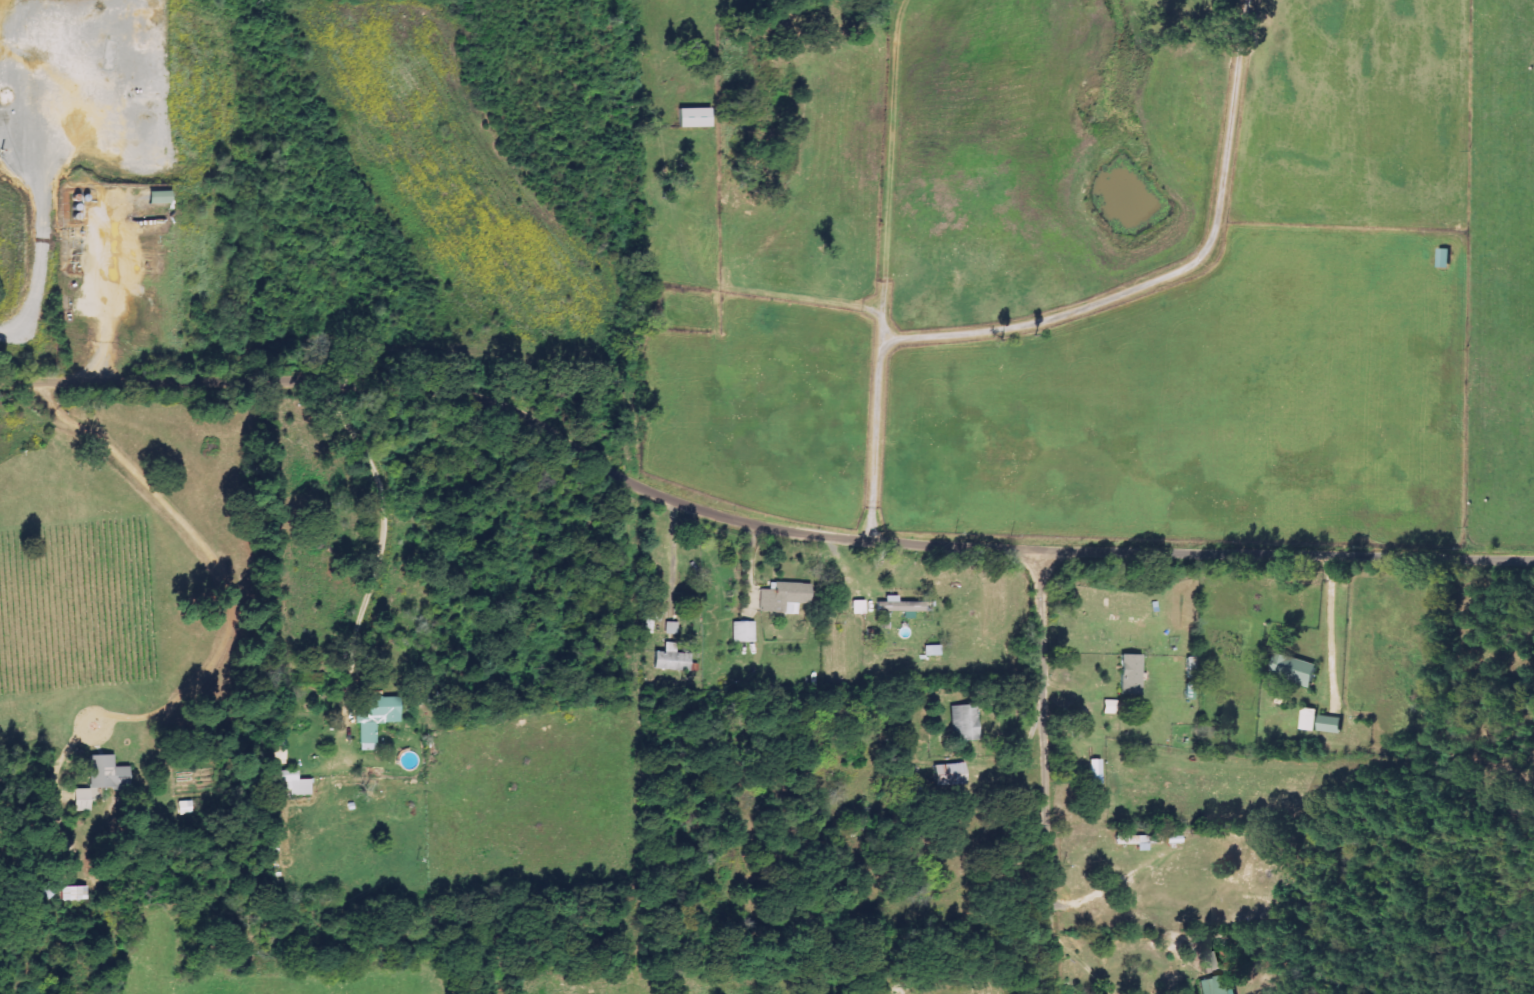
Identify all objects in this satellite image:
building: (691, 118)
building: (156, 197)
building: (1444, 258)
road: (1042, 315)
road: (755, 517)
building: (782, 598)
building: (897, 606)
building: (857, 607)
building: (650, 618)
building: (670, 628)
building: (741, 632)
building: (669, 659)
building: (1294, 669)
building: (1128, 675)
building: (1109, 707)
building: (376, 717)
building: (963, 723)
building: (1330, 725)
road: (1045, 769)
building: (1093, 772)
building: (947, 775)
building: (98, 782)
building: (290, 783)
building: (1134, 841)
building: (49, 889)
building: (72, 893)
building: (1210, 963)
road: (1082, 965)
building: (1217, 985)

